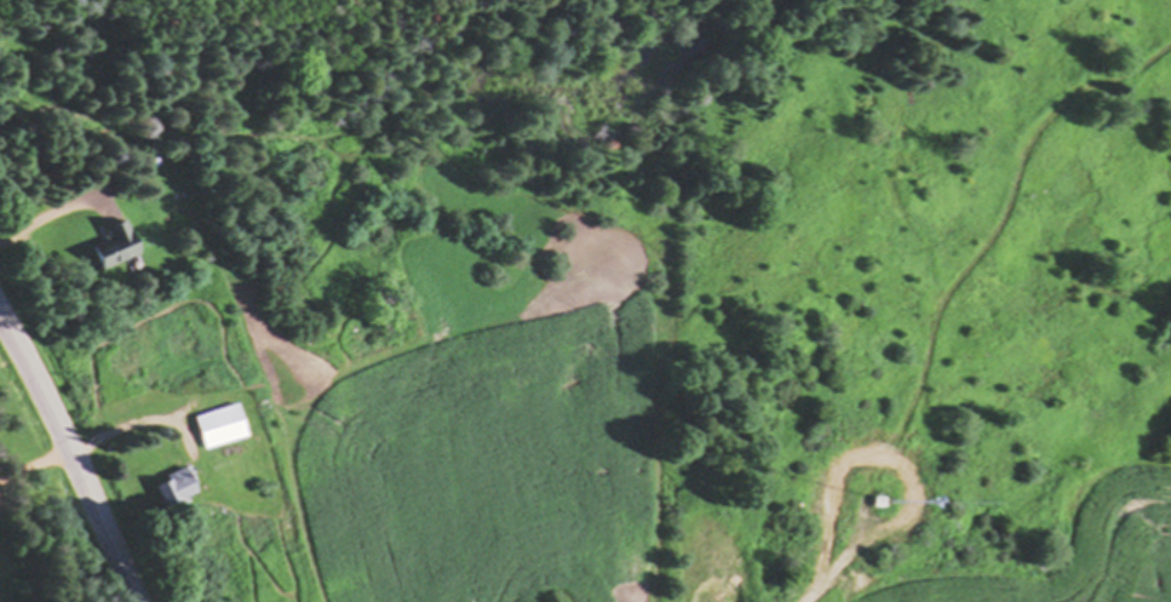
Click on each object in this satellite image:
road: (42, 218)
building: (116, 247)
building: (222, 428)
road: (71, 447)
road: (70, 458)
building: (177, 489)
road: (842, 571)

